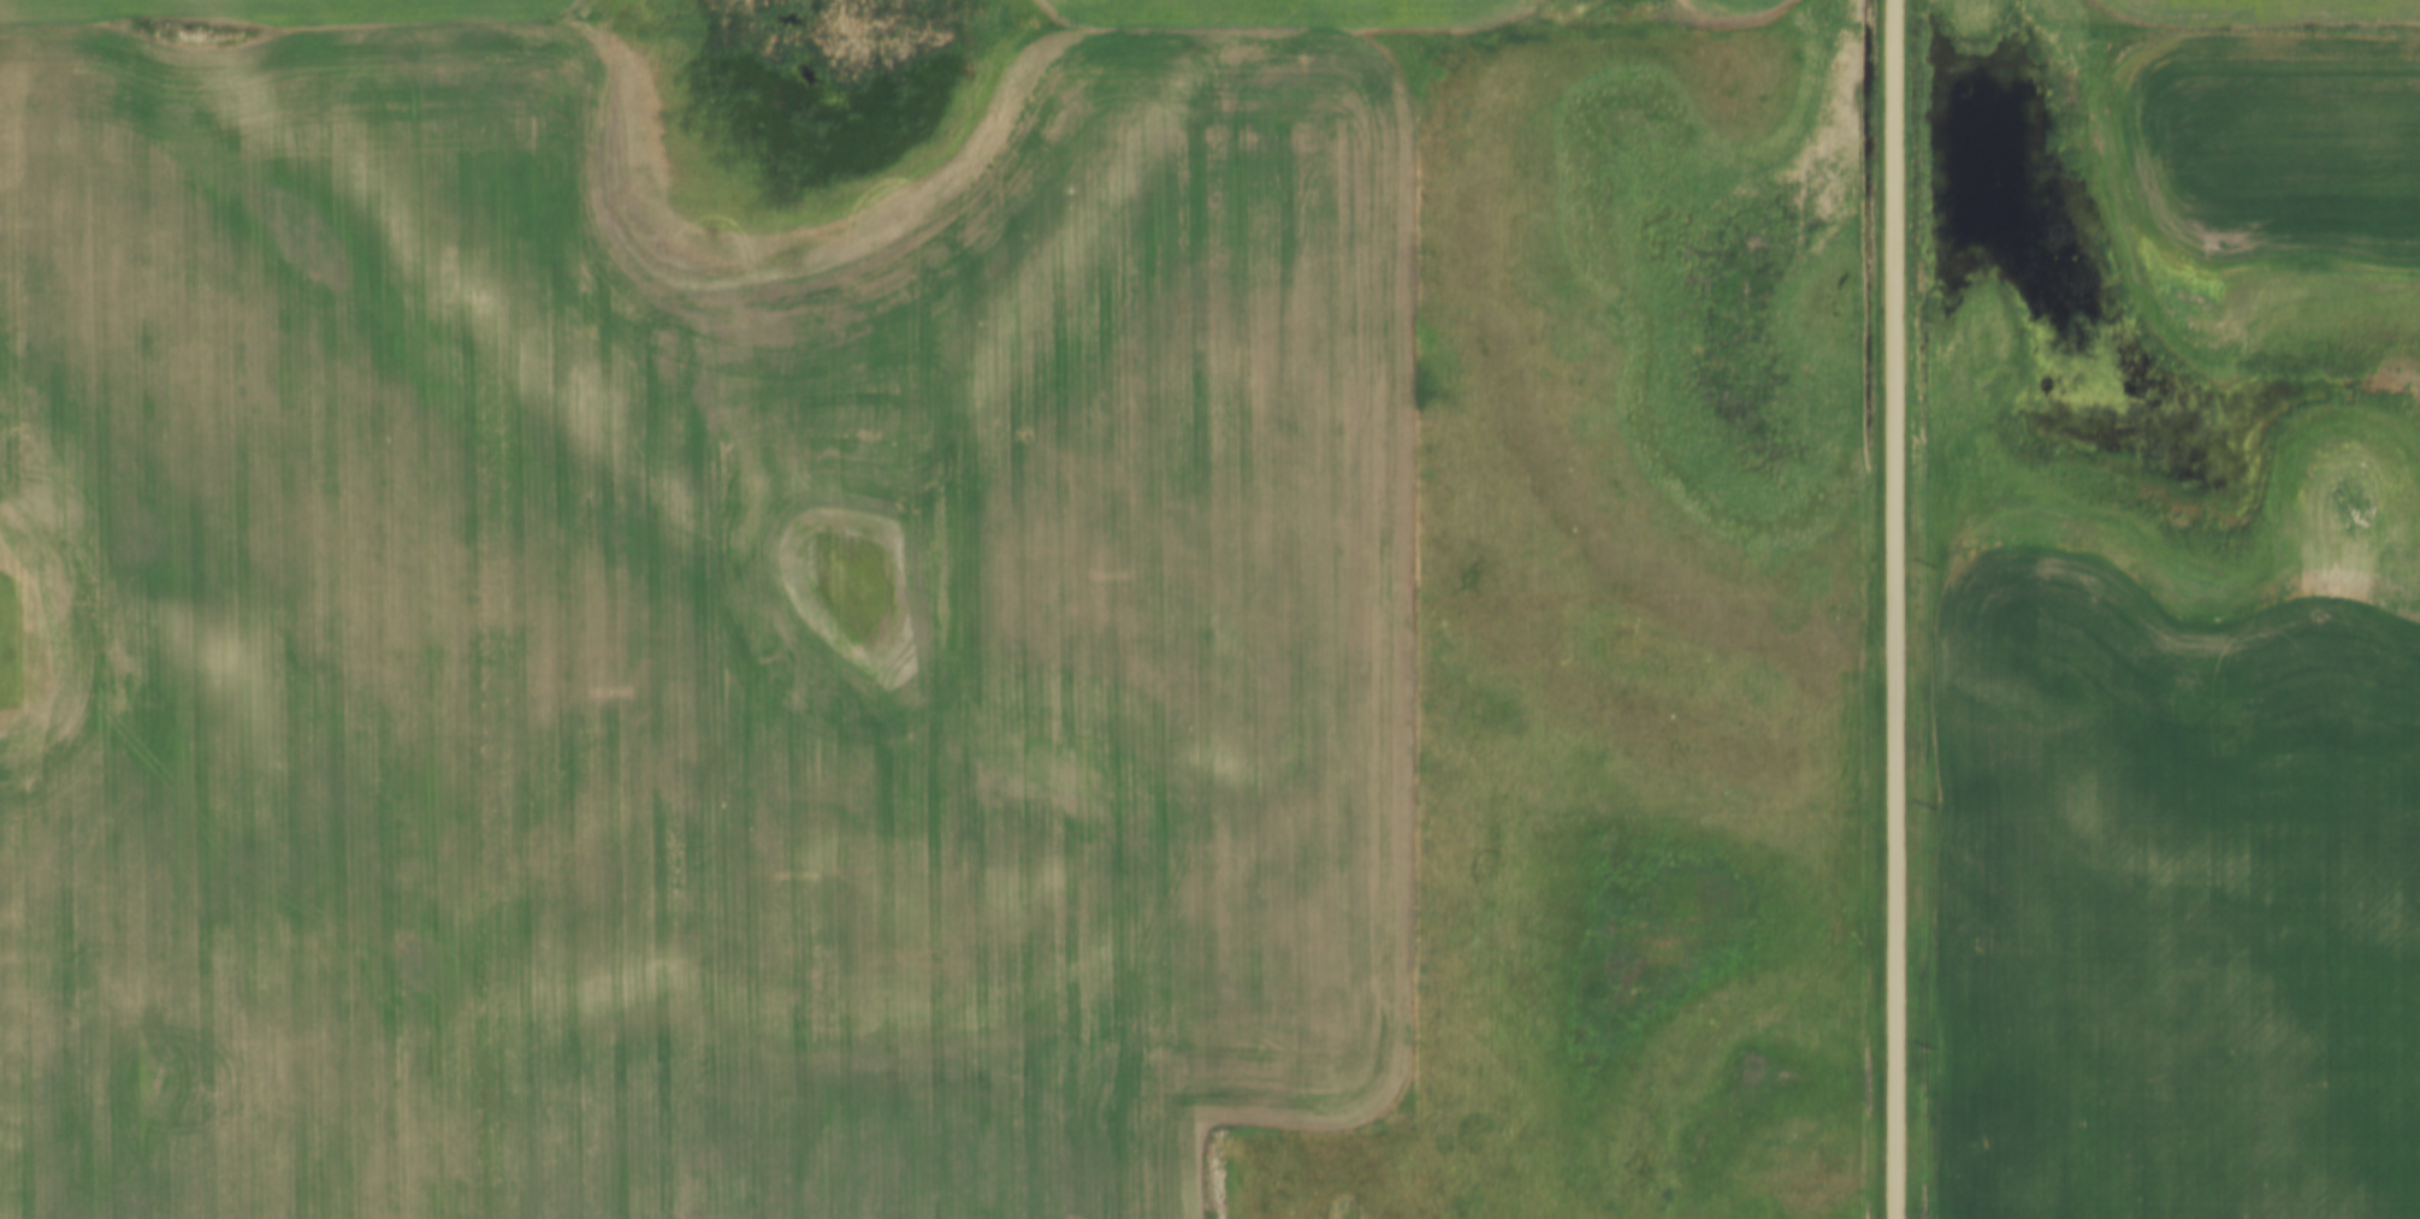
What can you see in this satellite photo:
road: (1894, 609)

